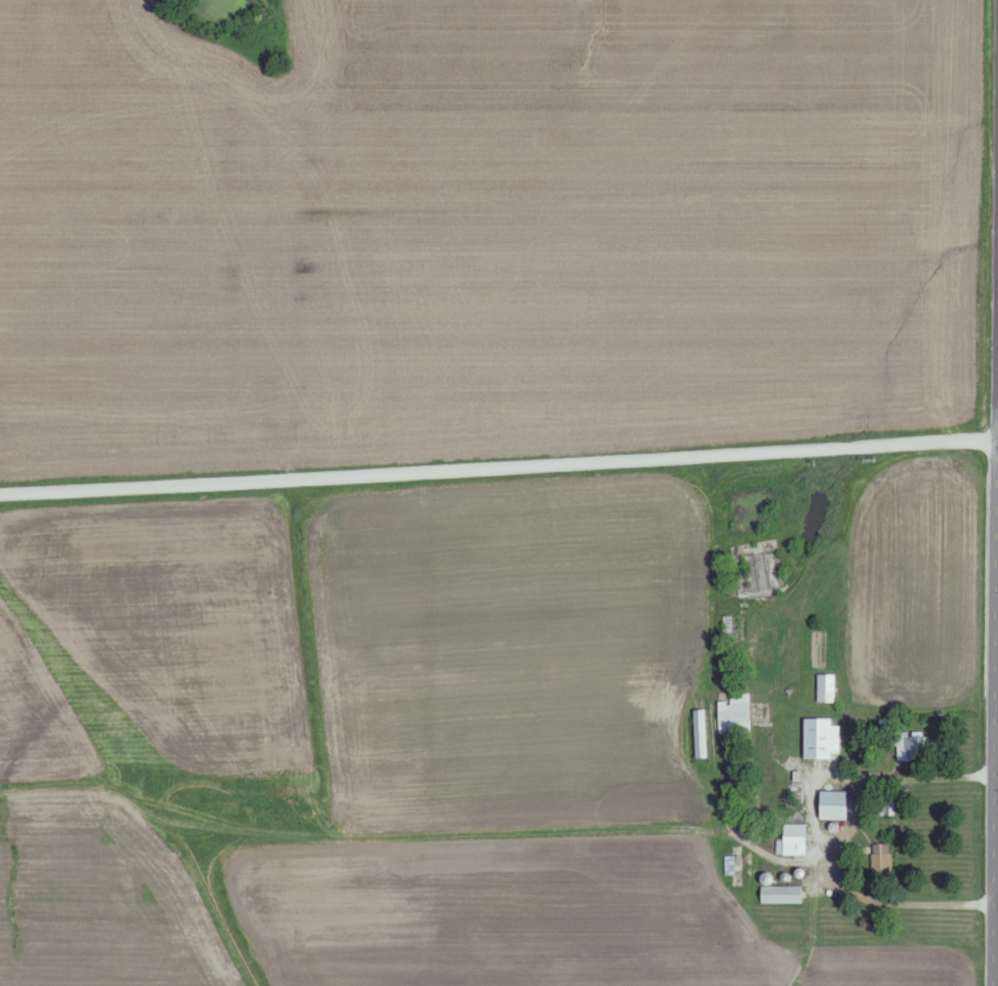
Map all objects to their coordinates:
road: (498, 469)
road: (993, 668)
building: (825, 690)
building: (733, 717)
building: (820, 741)
building: (910, 747)
road: (922, 777)
building: (831, 807)
building: (793, 841)
building: (881, 862)
building: (730, 867)
building: (780, 897)
road: (911, 902)

